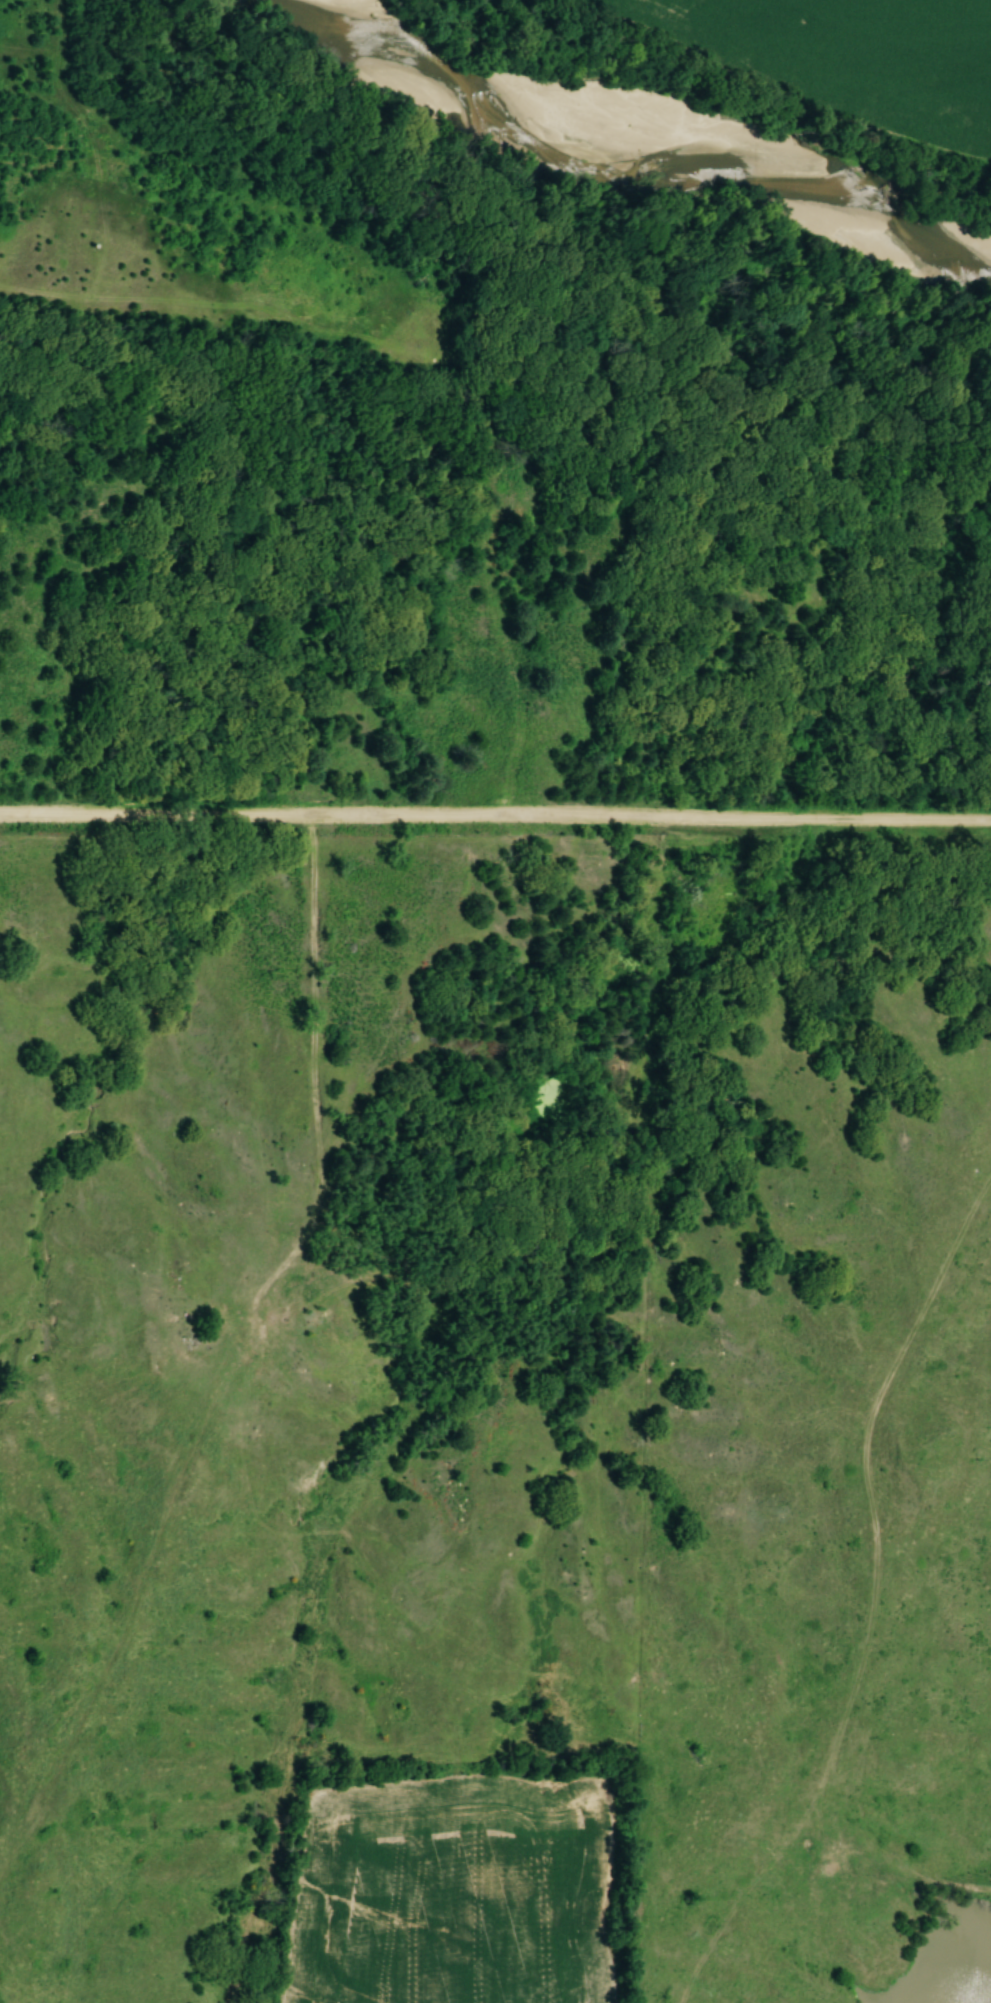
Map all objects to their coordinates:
river: (647, 140)
road: (495, 812)

